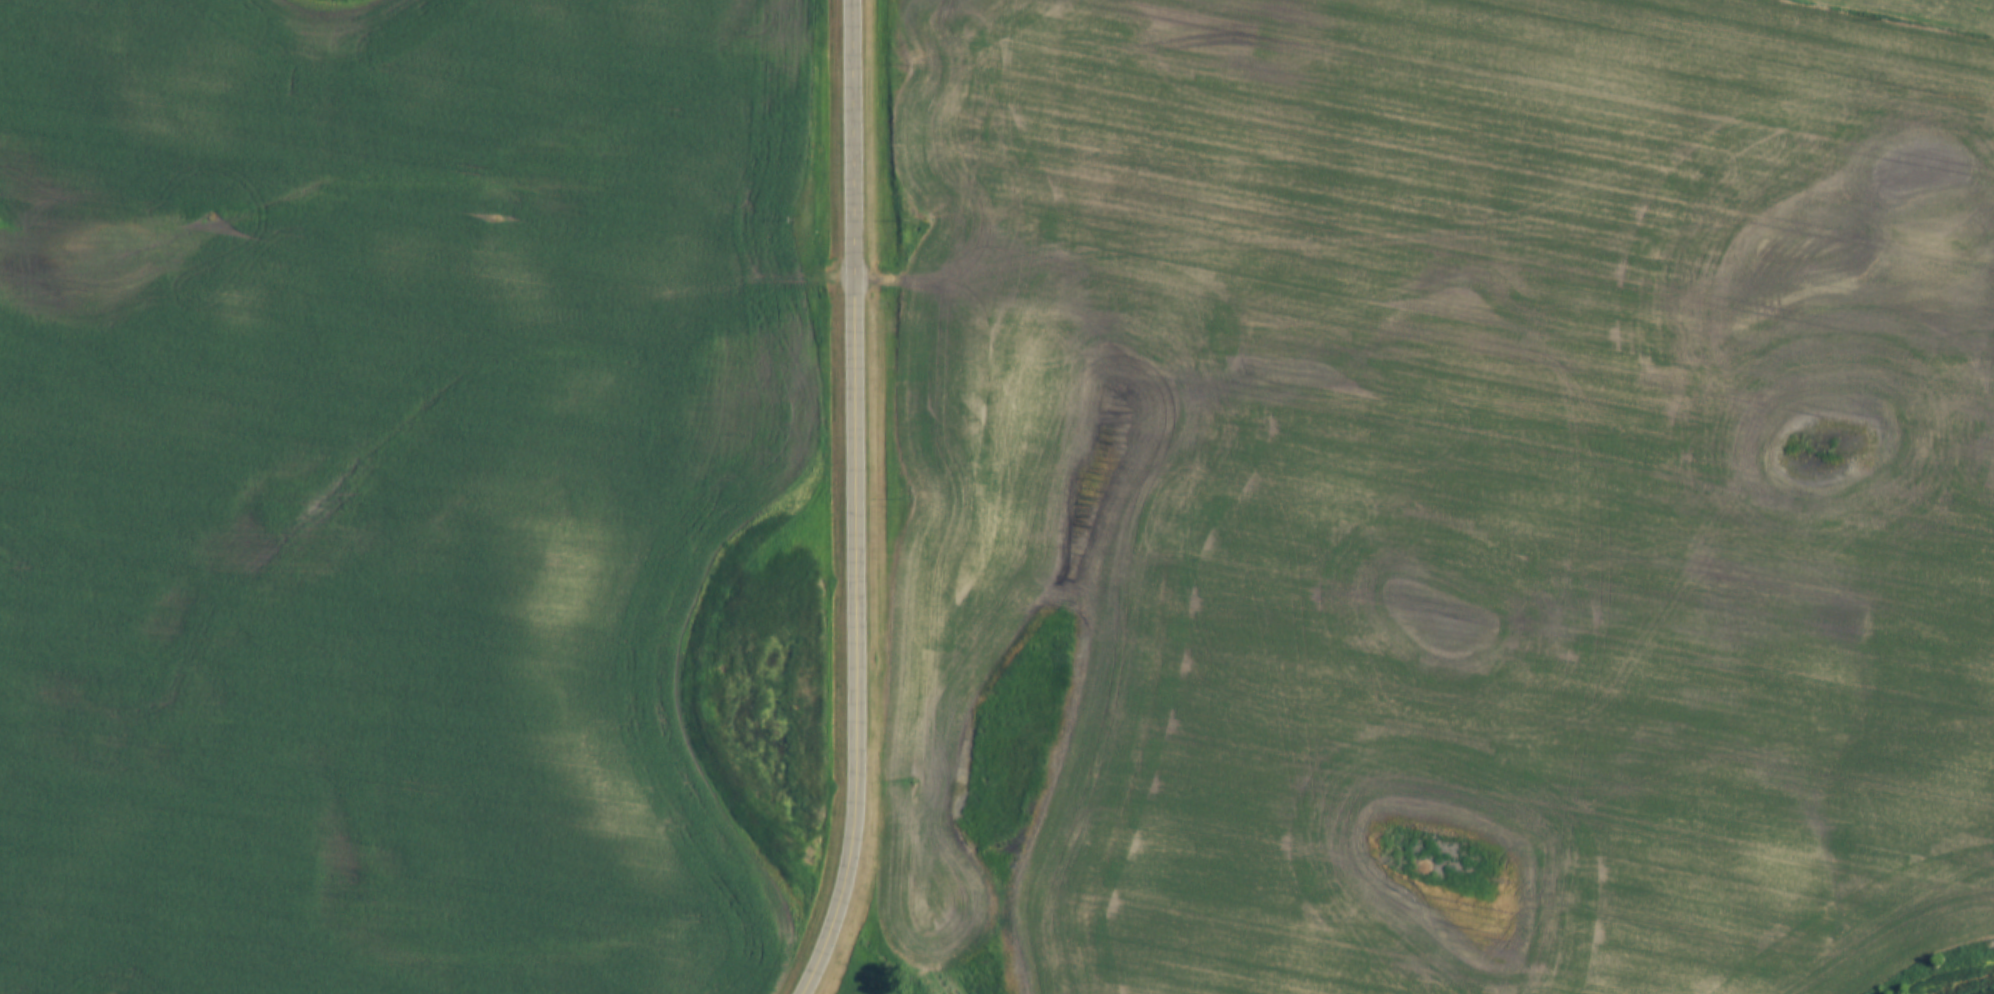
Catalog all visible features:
road: (862, 502)

